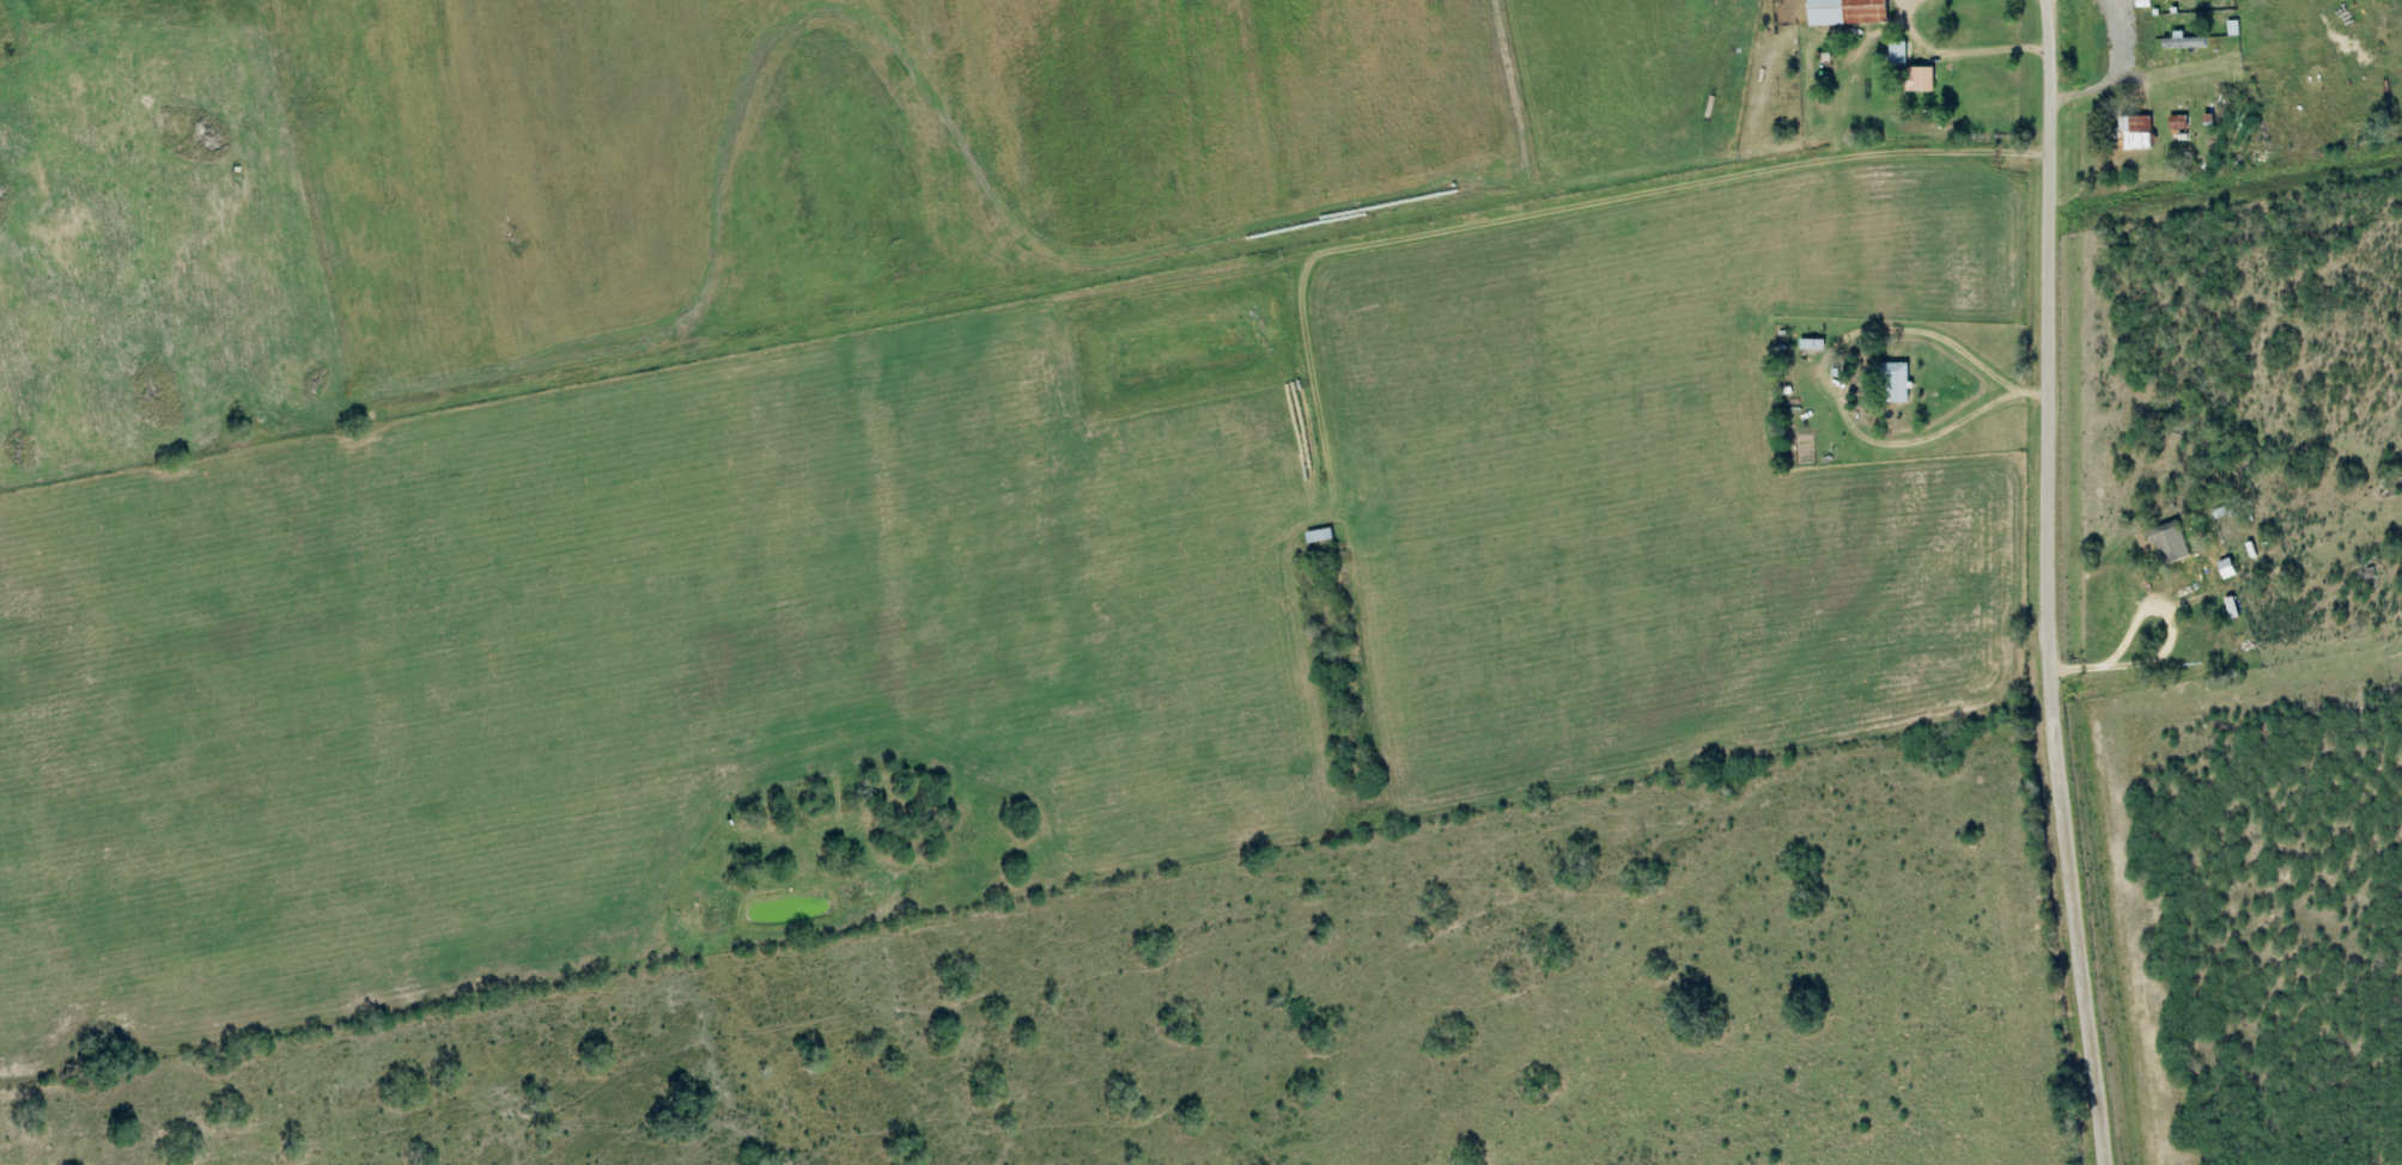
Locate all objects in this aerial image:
building: (1847, 12)
building: (2185, 42)
building: (1899, 54)
building: (1922, 80)
building: (2139, 133)
building: (1813, 344)
building: (1897, 384)
building: (2171, 544)
building: (2227, 569)
road: (2055, 584)

